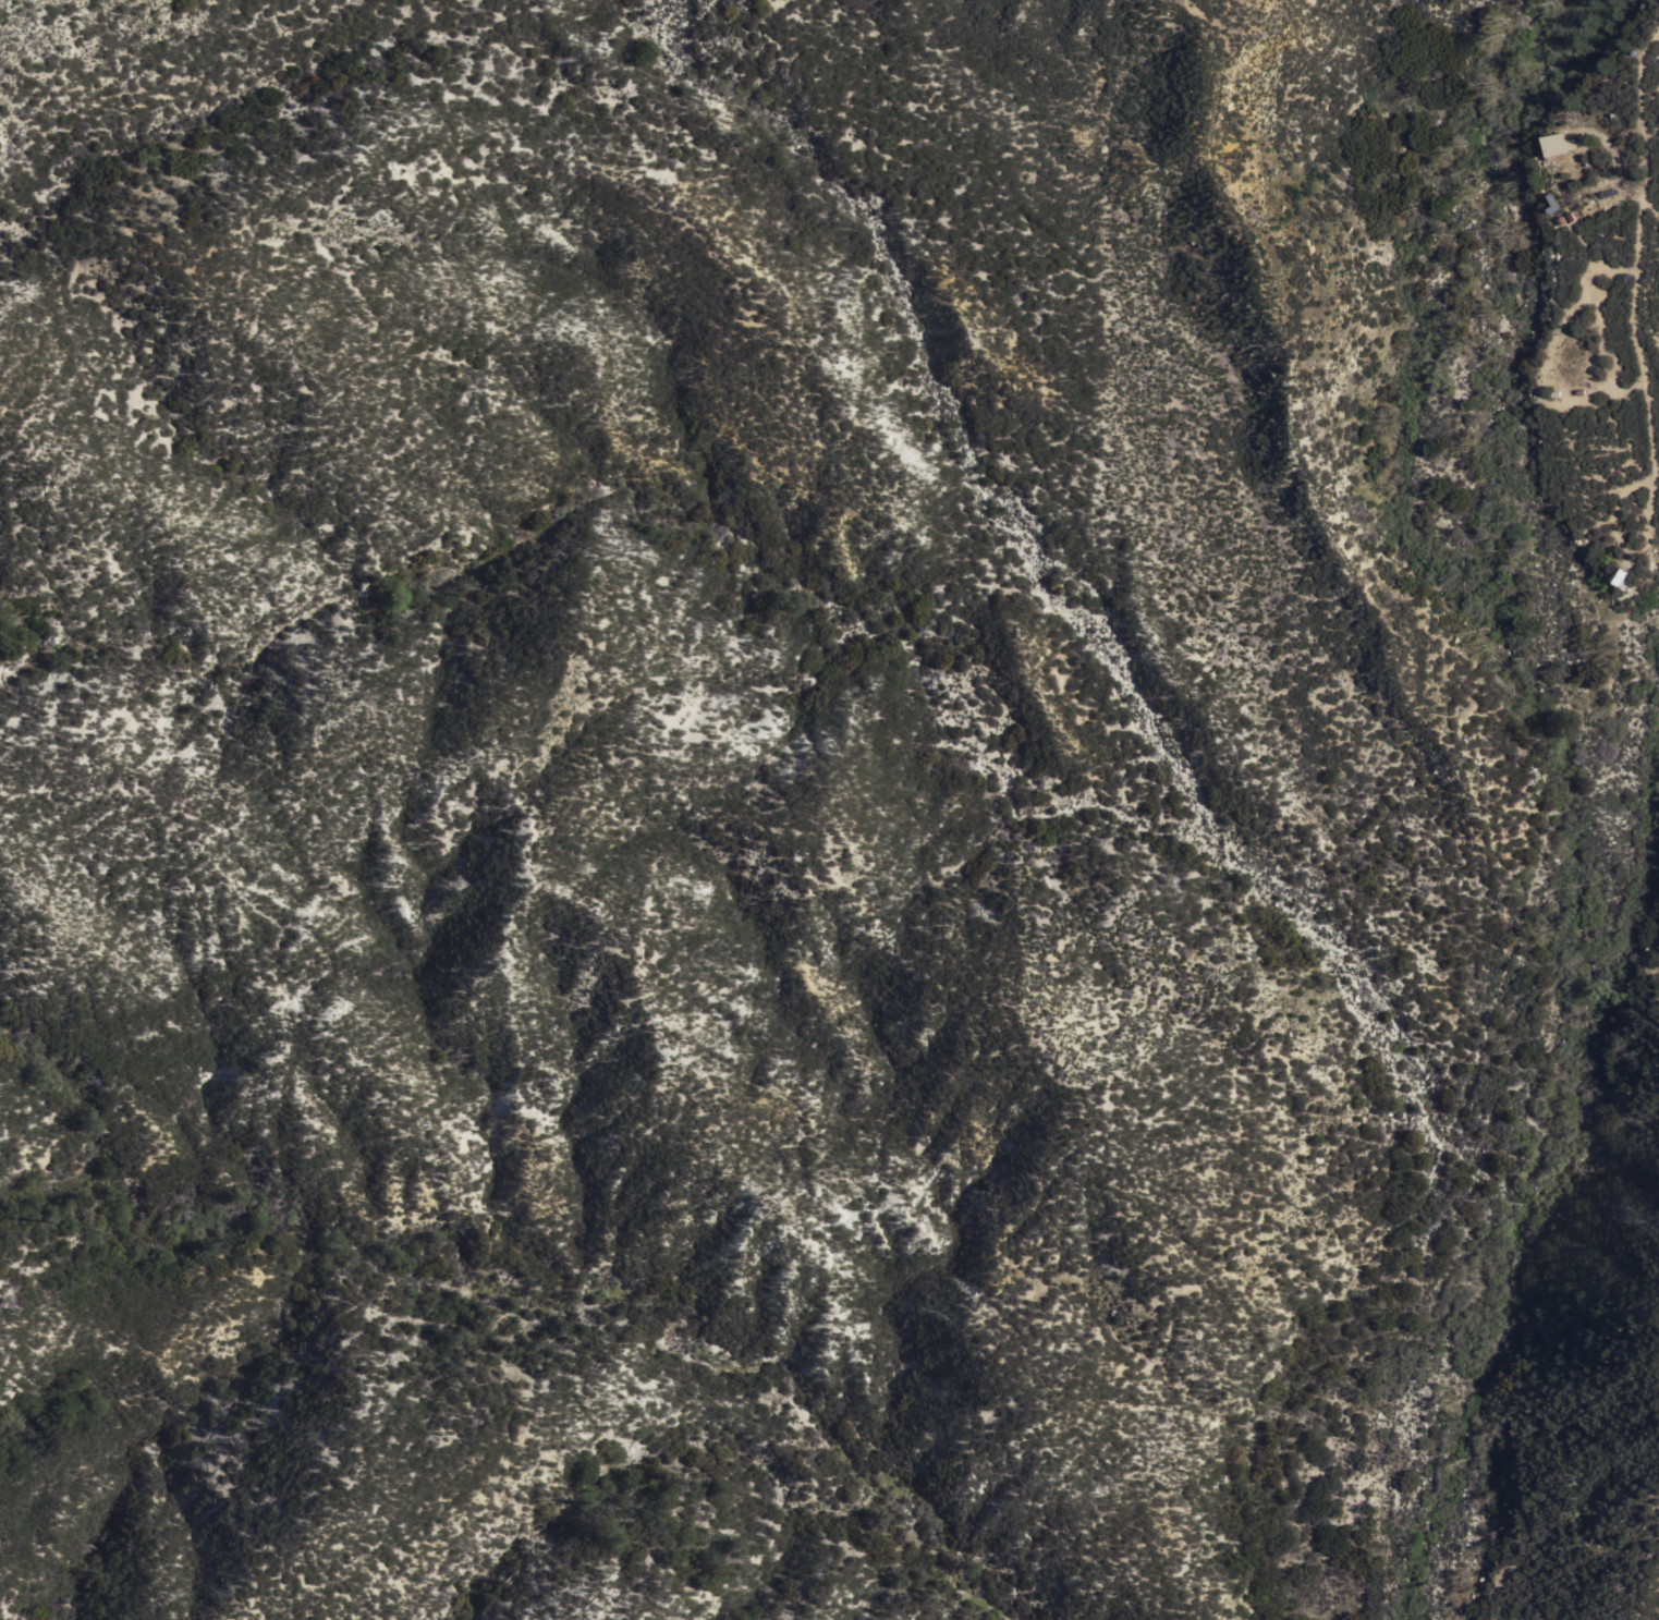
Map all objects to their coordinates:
road: (1605, 135)
building: (1542, 144)
building: (1559, 144)
road: (1637, 254)
road: (1553, 343)
building: (1570, 352)
road: (1621, 547)
building: (1622, 574)
road: (1436, 1172)

